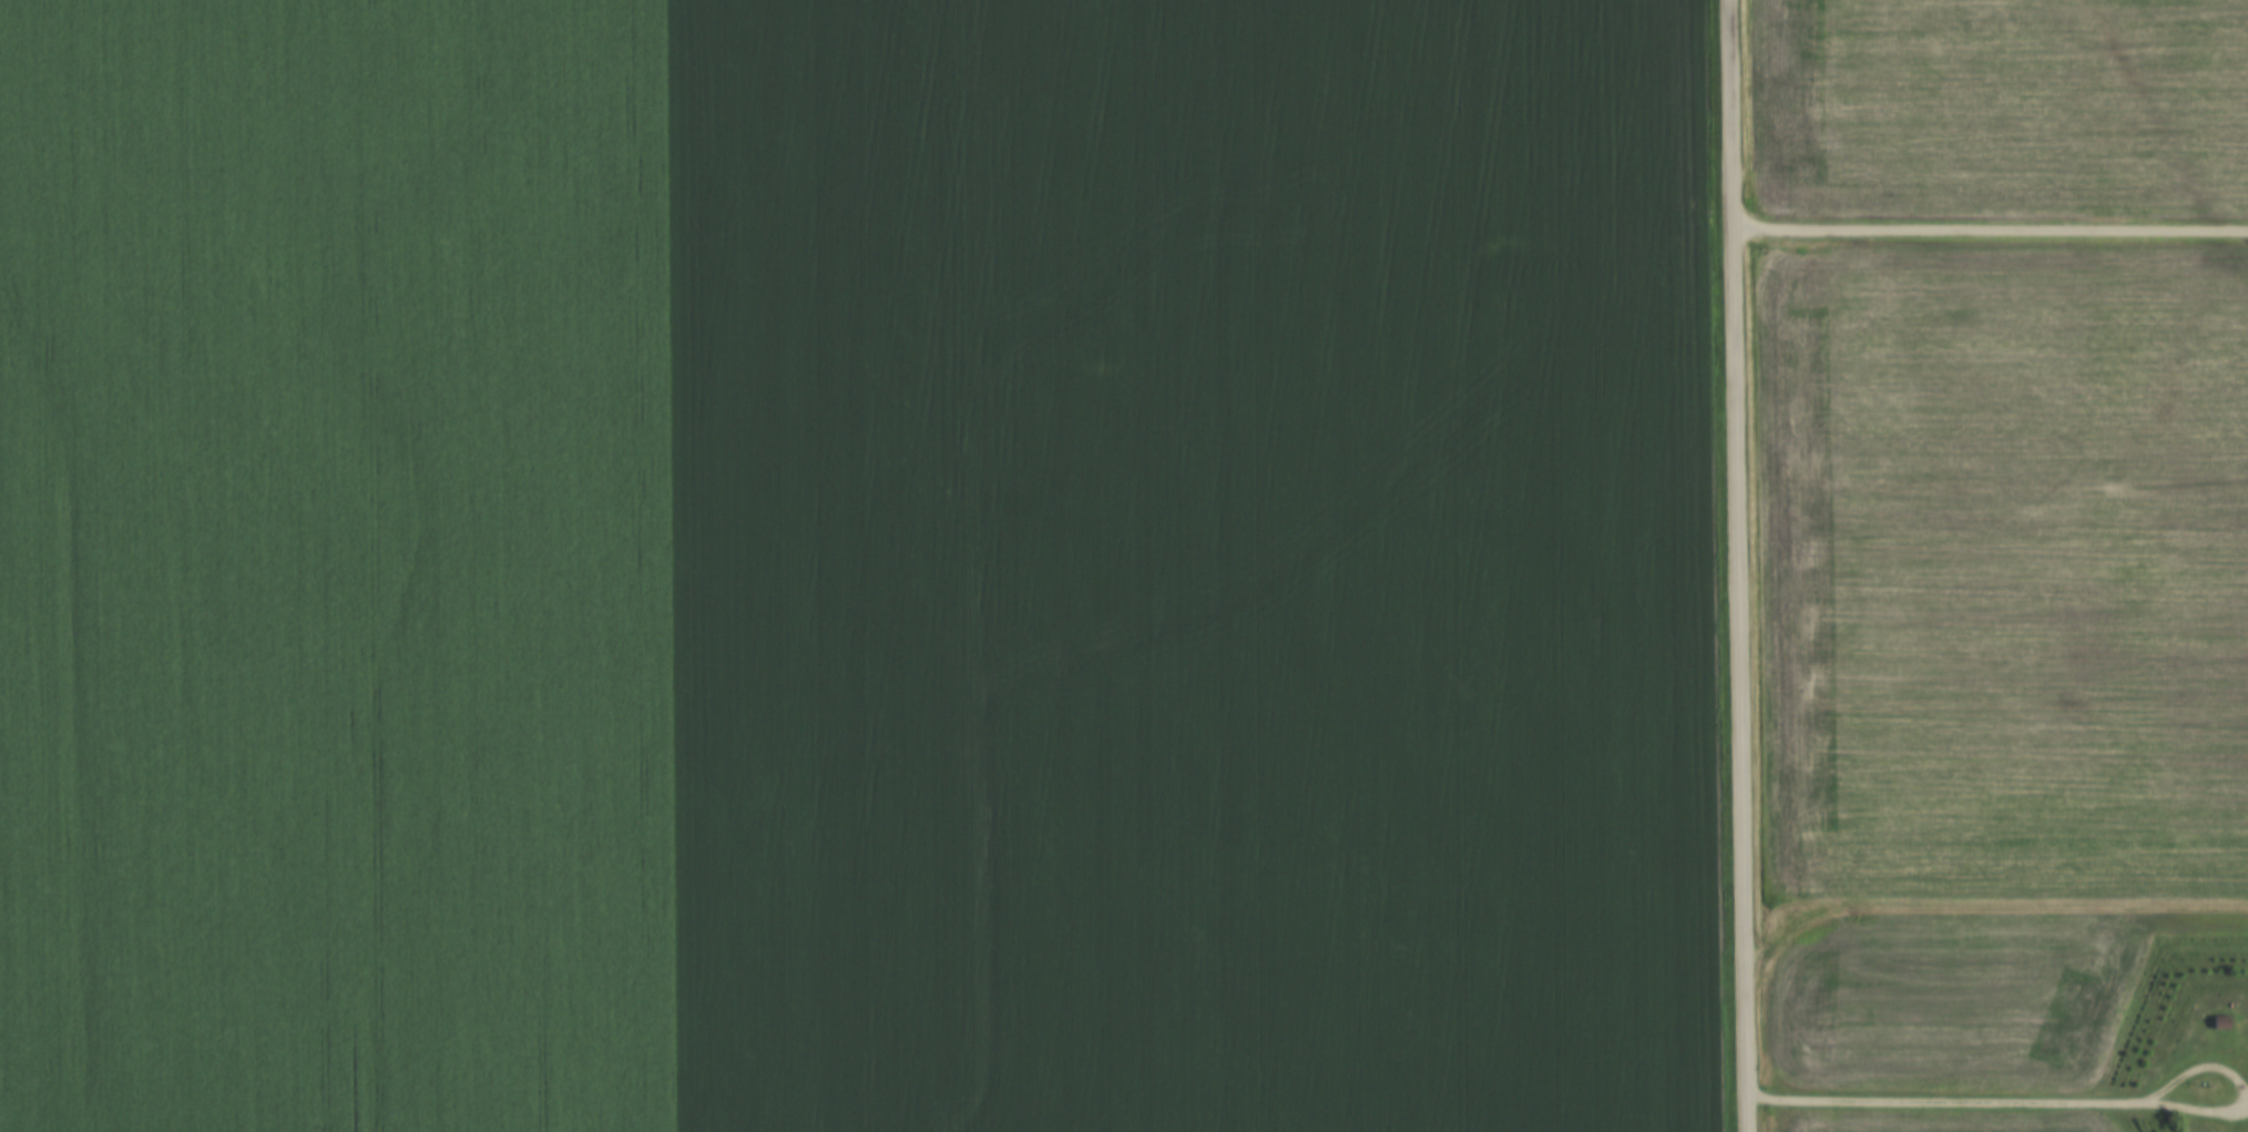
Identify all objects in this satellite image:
road: (1989, 230)
road: (1739, 565)
road: (2060, 1101)

